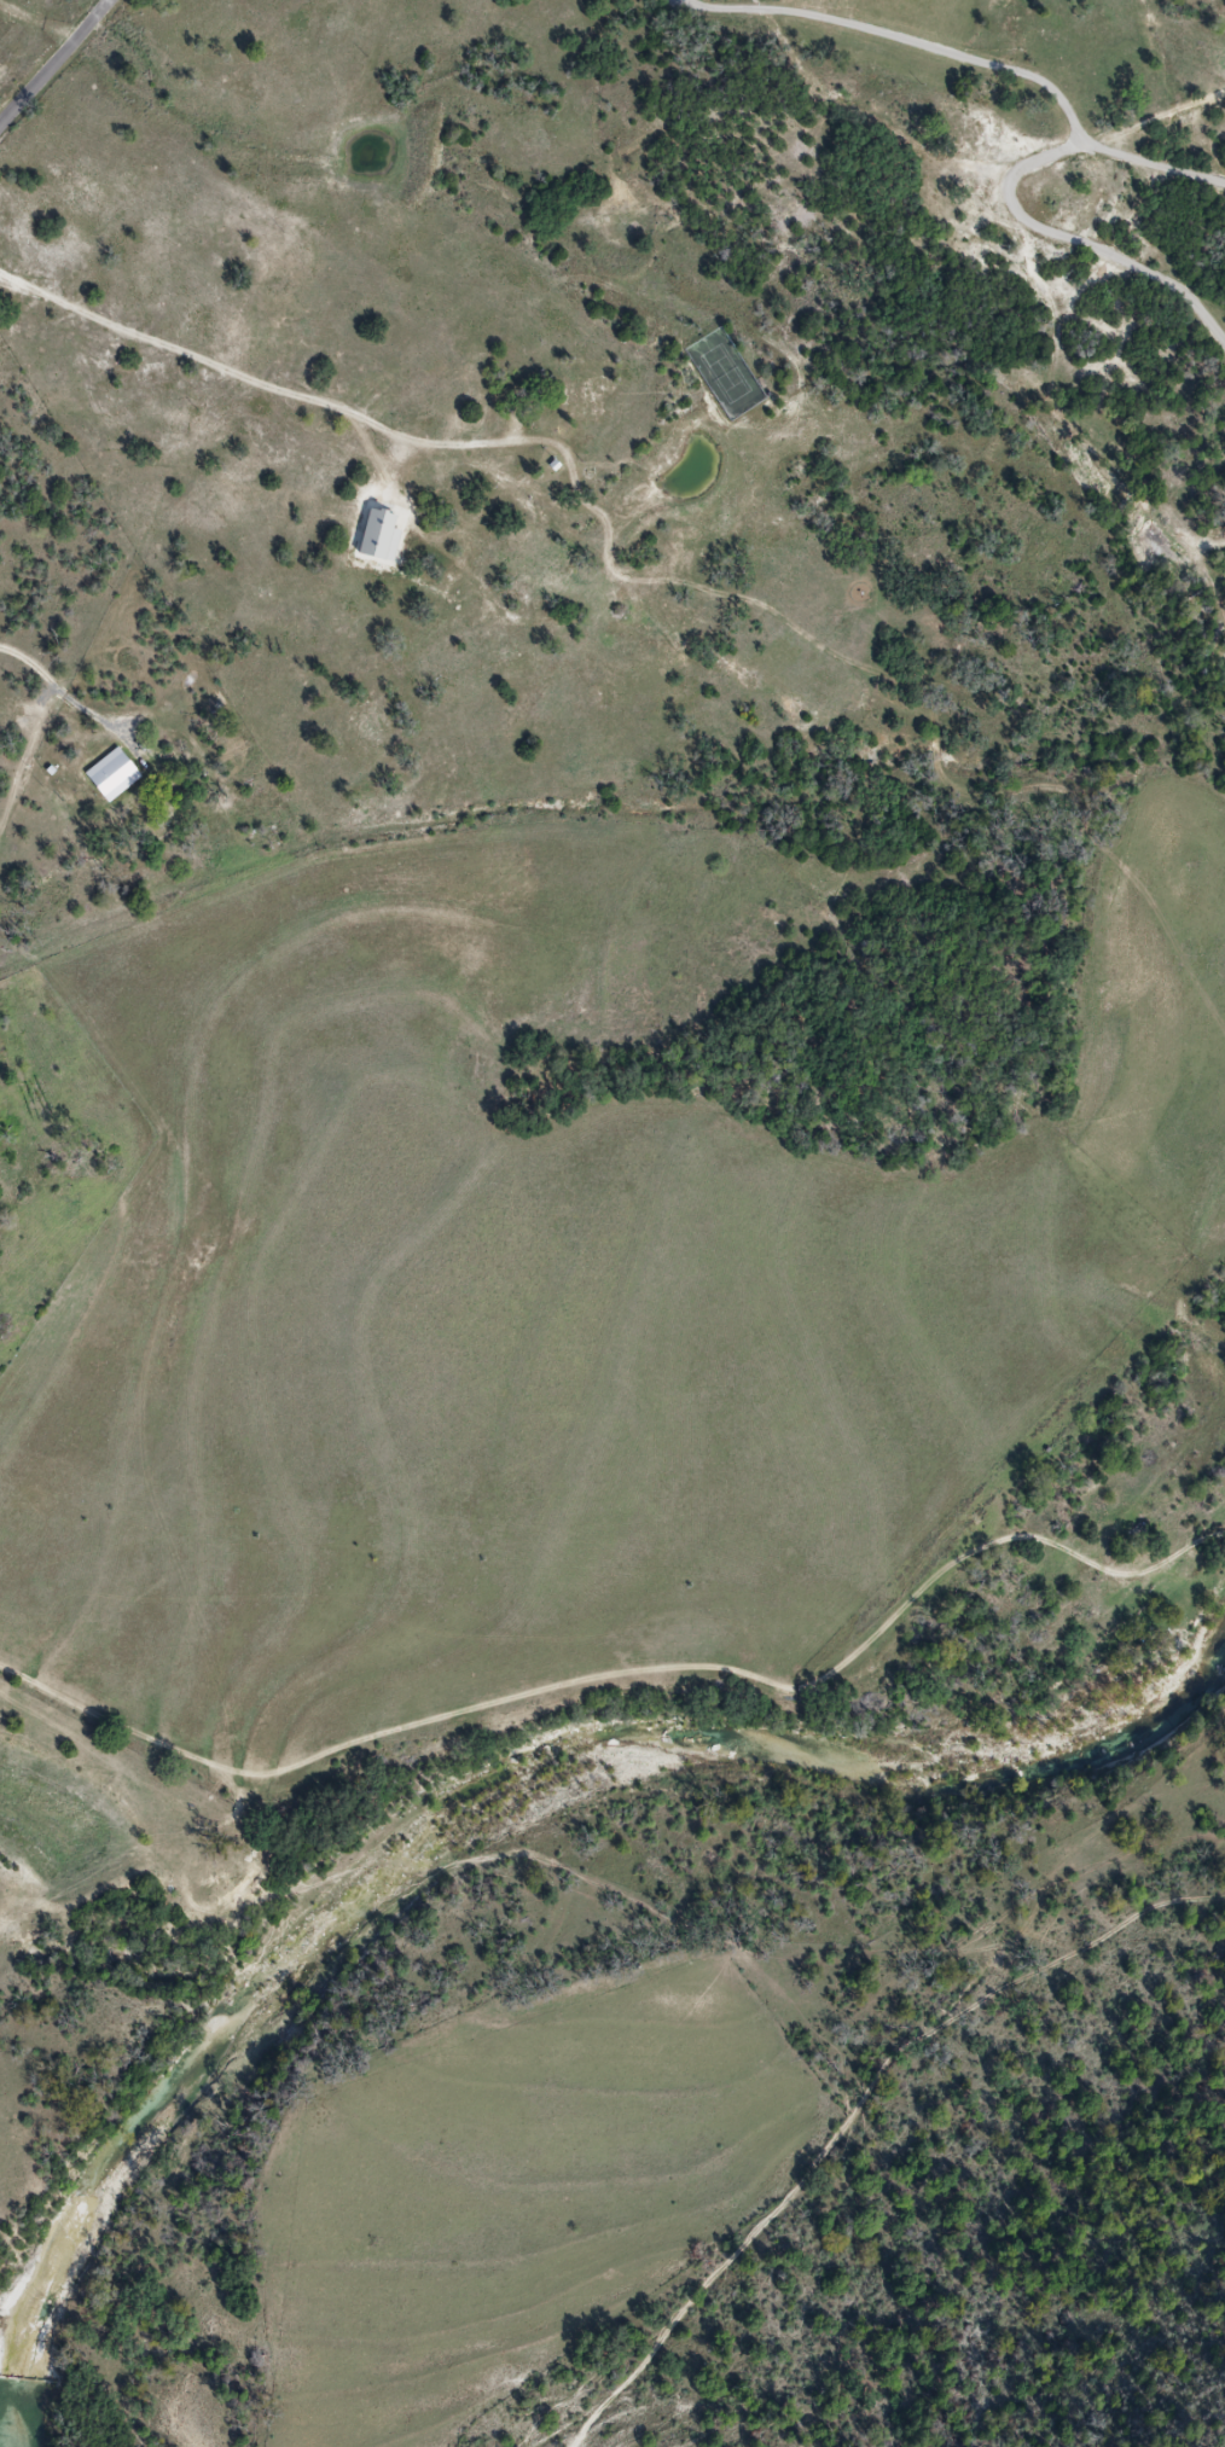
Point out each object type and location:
road: (969, 60)
road: (53, 63)
road: (1074, 243)
building: (584, 389)
road: (817, 482)
building: (557, 576)
building: (446, 591)
road: (47, 669)
road: (30, 773)
building: (133, 816)
road: (620, 1670)

